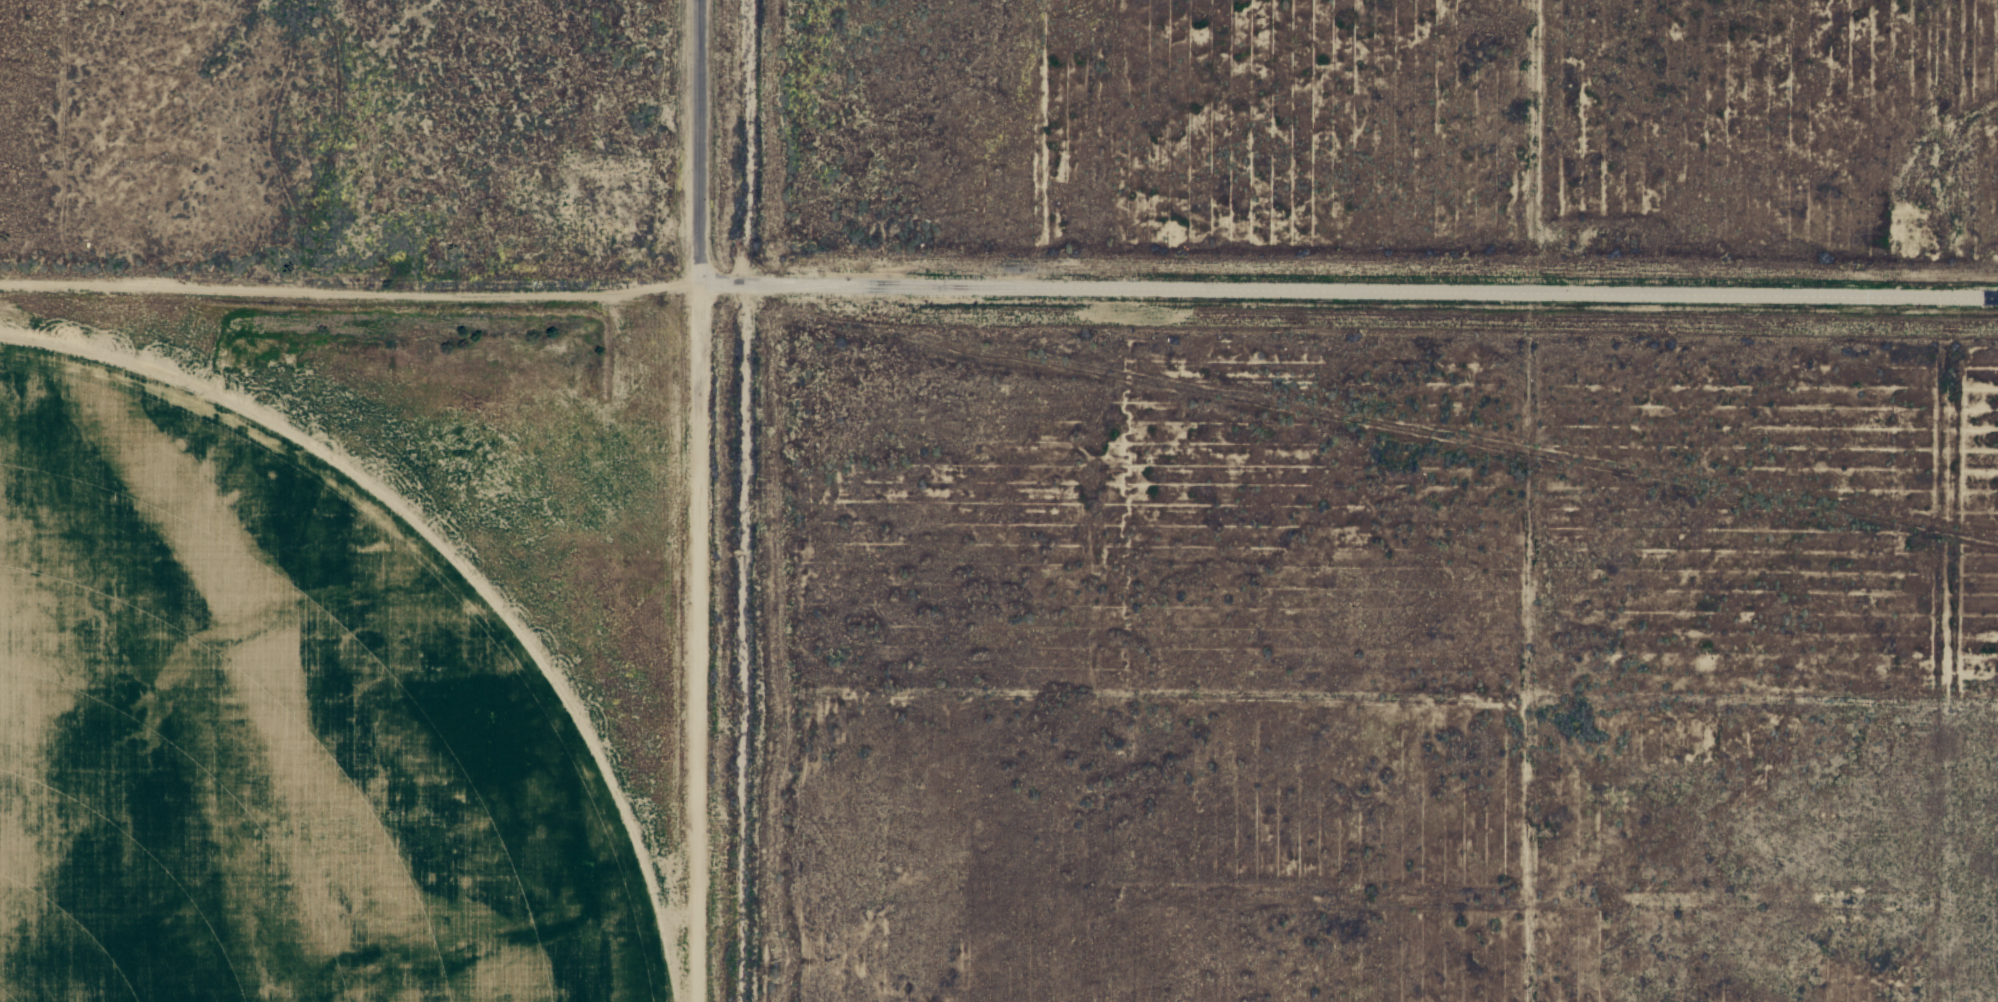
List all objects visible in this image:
road: (693, 164)
road: (1372, 291)
road: (726, 501)
crop: (340, 647)

